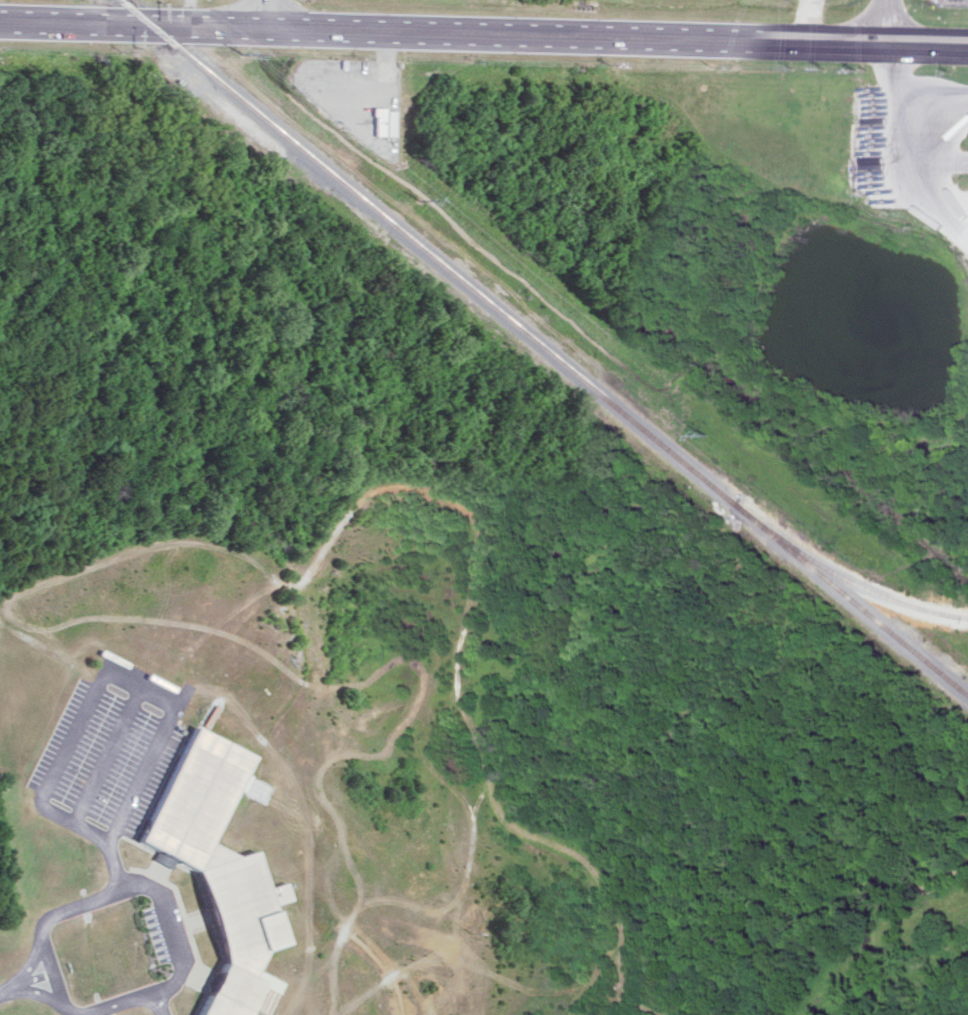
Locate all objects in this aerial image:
railway: (134, 14)
road: (268, 15)
road: (886, 23)
road: (483, 36)
road: (911, 94)
building: (384, 121)
railway: (559, 359)
railway: (875, 591)
road: (135, 683)
road: (107, 755)
building: (217, 869)
road: (130, 885)
road: (9, 989)
road: (158, 1004)

